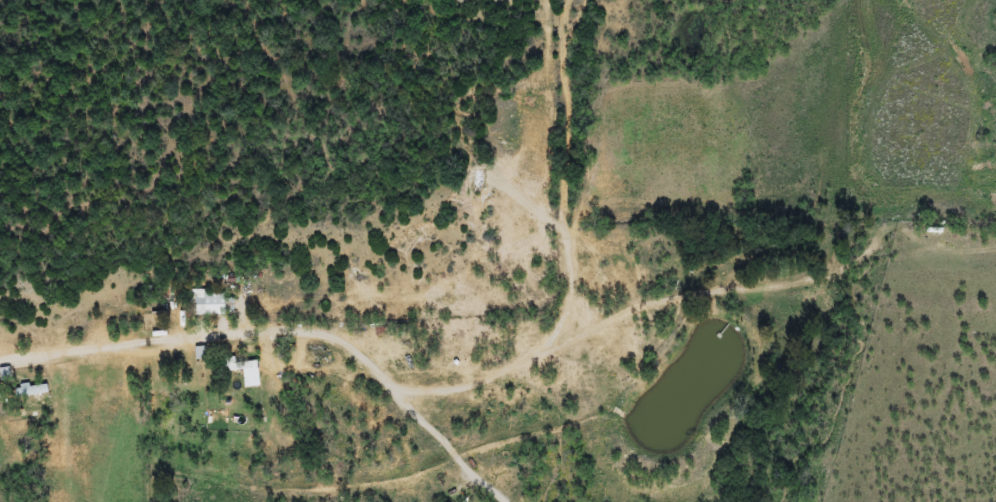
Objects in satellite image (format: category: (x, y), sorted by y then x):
building: (205, 303)
building: (247, 371)
building: (34, 390)

